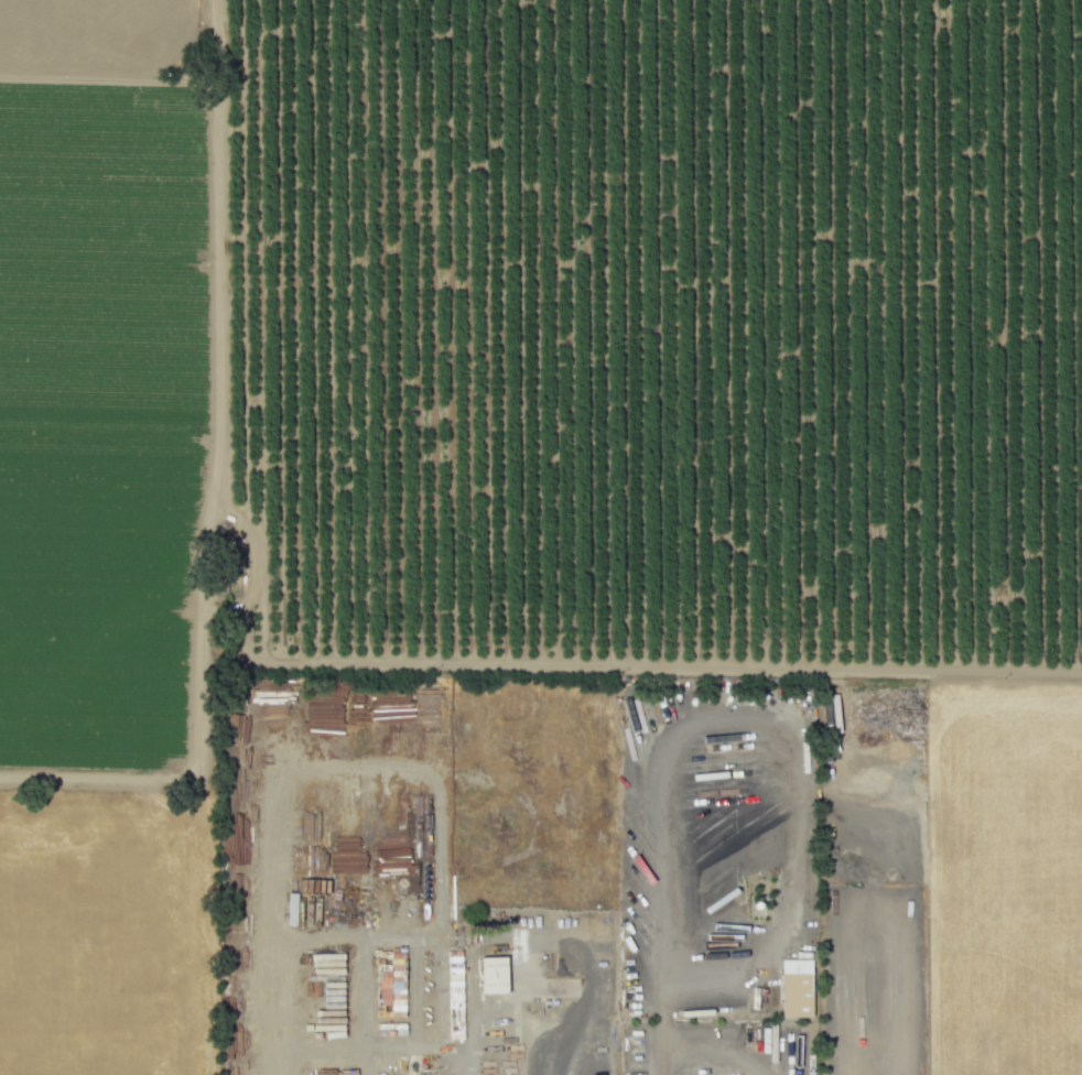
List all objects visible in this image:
road: (735, 721)
road: (263, 829)
crop: (1005, 879)
crop: (104, 935)
road: (422, 938)
building: (493, 975)
building: (796, 988)
road: (412, 993)
building: (455, 1009)
road: (539, 1058)
road: (289, 1061)
road: (718, 1066)
road: (668, 1068)

